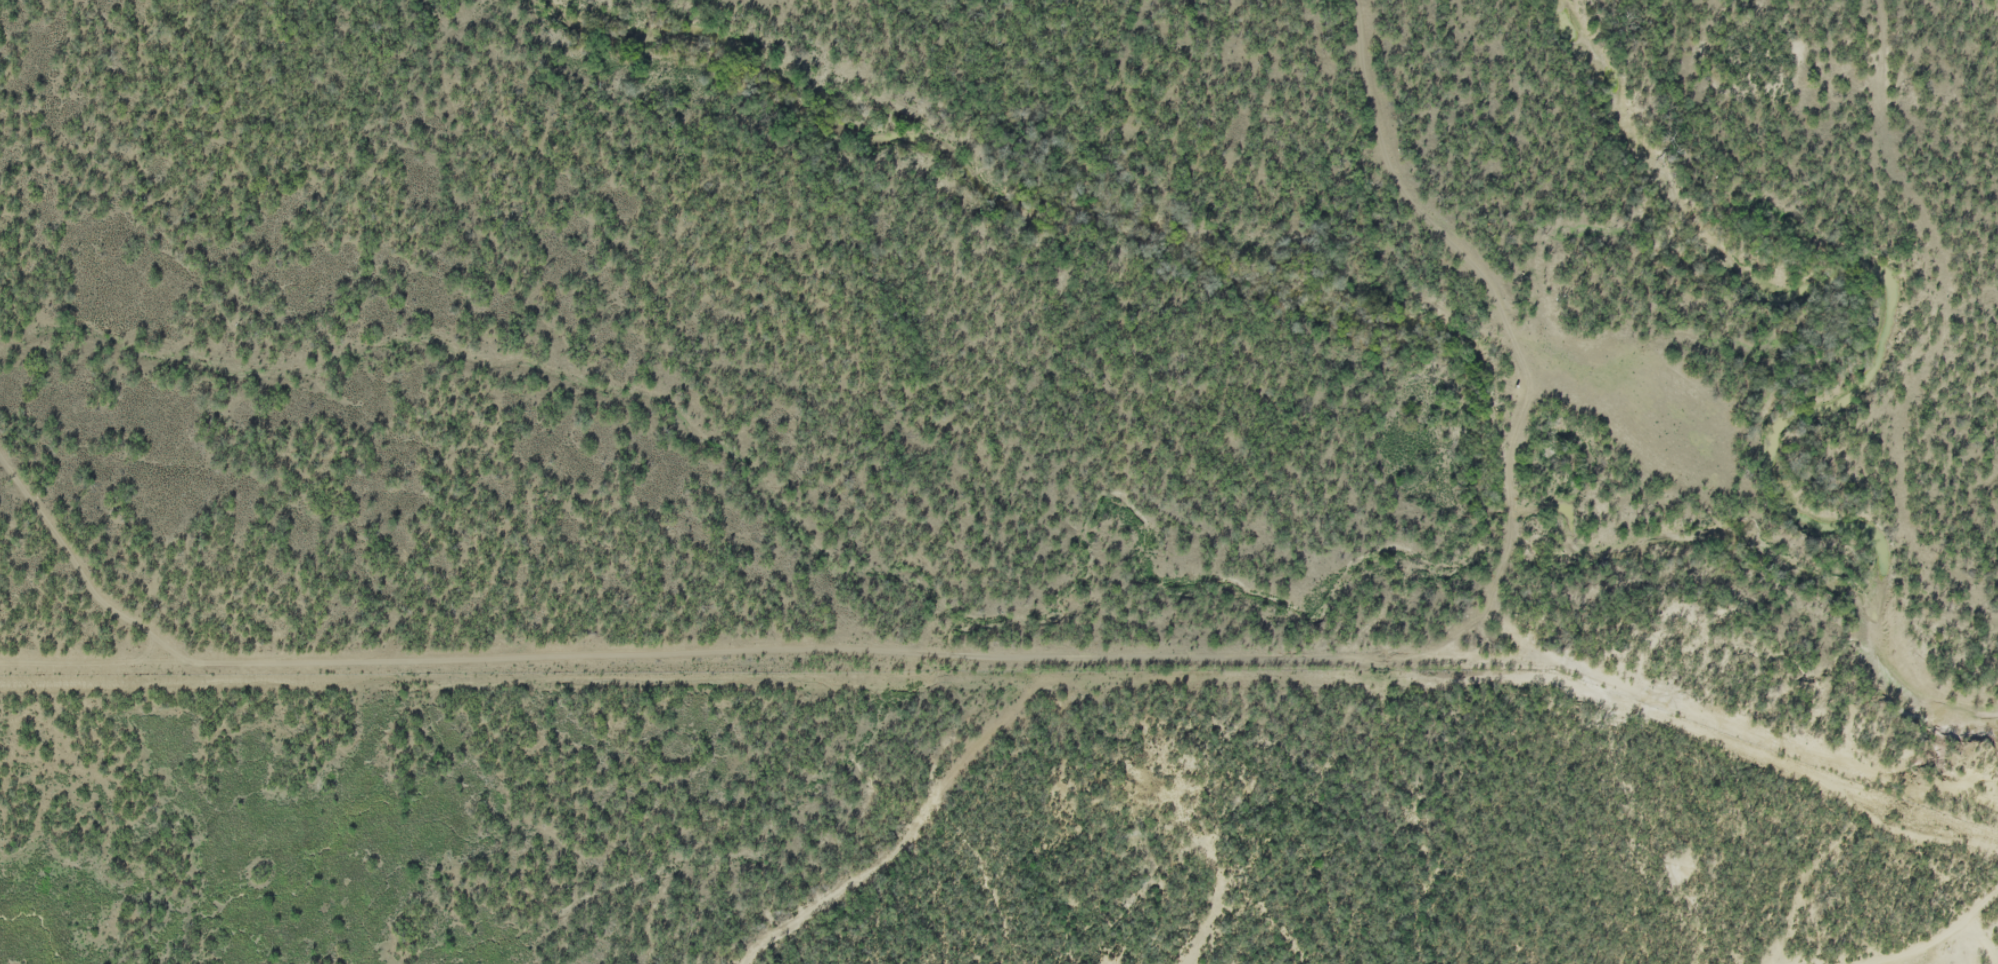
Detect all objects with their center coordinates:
river: (1878, 359)

